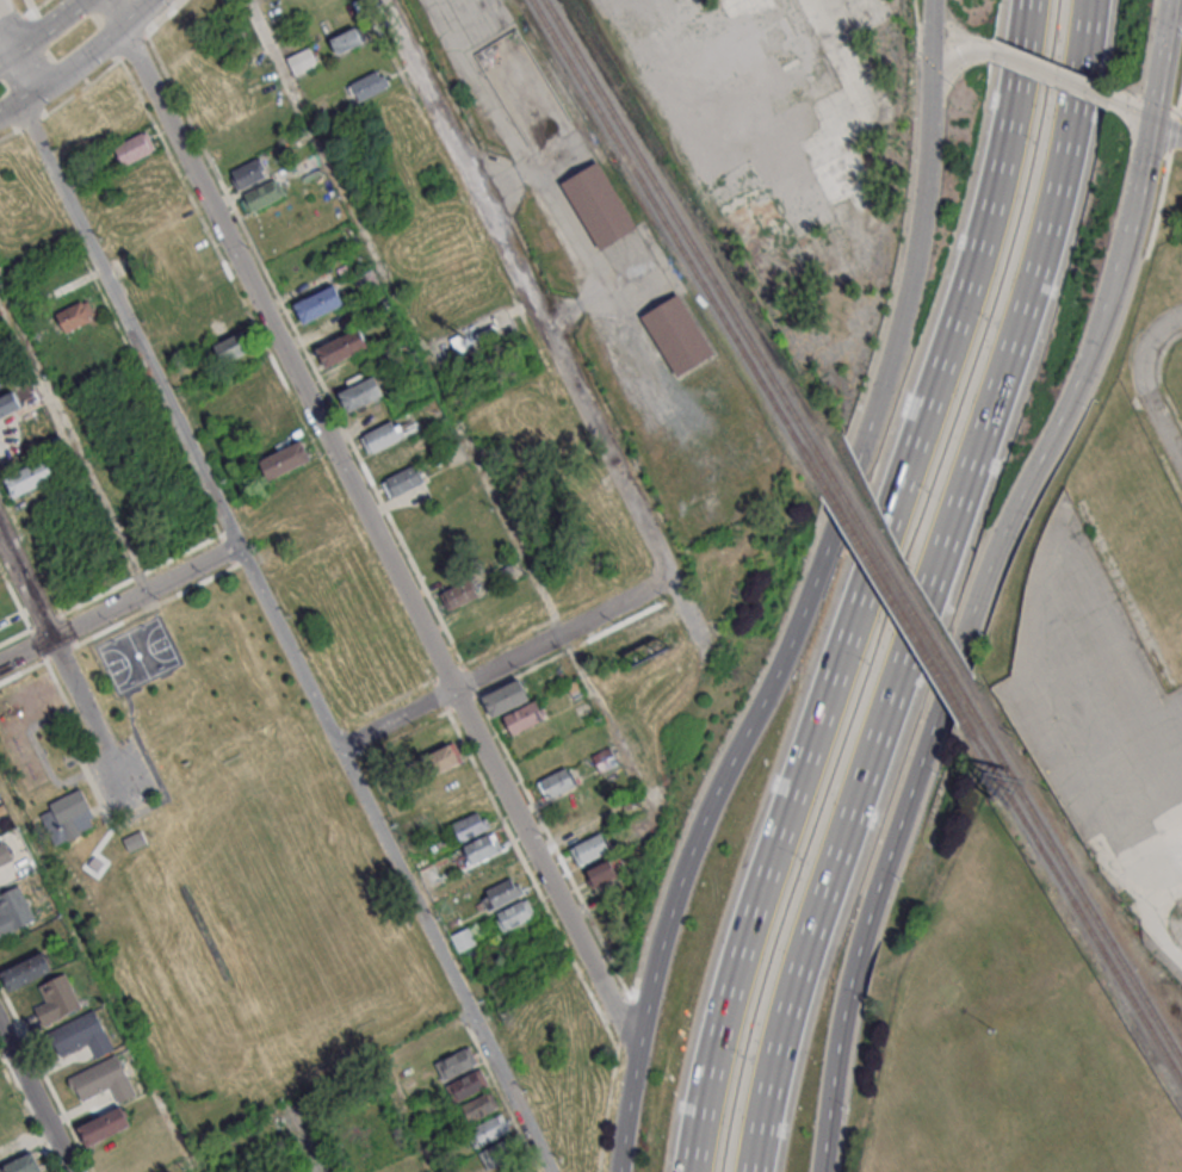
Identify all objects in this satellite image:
road: (1177, 6)
road: (915, 13)
road: (930, 30)
road: (44, 32)
road: (7, 36)
road: (969, 36)
building: (346, 38)
road: (1145, 49)
road: (957, 50)
building: (296, 60)
road: (1158, 60)
road: (78, 61)
road: (1051, 64)
traffic signals: (930, 66)
road: (1052, 73)
road: (18, 76)
building: (371, 83)
road: (1125, 94)
road: (1178, 98)
road: (1157, 105)
road: (1134, 112)
traffic signals: (1150, 122)
road: (1165, 130)
road: (1172, 130)
building: (134, 148)
building: (308, 165)
building: (248, 172)
building: (262, 194)
road: (1156, 204)
building: (599, 205)
railway: (687, 236)
railway: (680, 243)
building: (200, 280)
building: (366, 281)
building: (318, 303)
building: (75, 315)
road: (128, 324)
building: (222, 324)
road: (545, 325)
building: (676, 334)
road: (1151, 337)
building: (233, 346)
building: (342, 347)
road: (1089, 351)
road: (1158, 377)
building: (250, 392)
building: (359, 392)
building: (8, 401)
road: (452, 409)
building: (262, 415)
road: (1159, 422)
building: (382, 435)
road: (74, 439)
building: (394, 458)
building: (285, 459)
building: (29, 477)
building: (403, 480)
building: (318, 525)
road: (371, 527)
road: (858, 585)
railway: (901, 587)
road: (918, 587)
road: (25, 588)
building: (458, 594)
road: (811, 595)
railway: (896, 601)
road: (118, 604)
building: (650, 622)
road: (505, 662)
building: (506, 699)
road: (88, 712)
building: (524, 718)
building: (444, 758)
building: (605, 758)
building: (556, 782)
building: (72, 812)
building: (470, 825)
building: (483, 847)
building: (590, 849)
building: (4, 854)
park: (221, 858)
road: (391, 858)
road: (884, 863)
building: (602, 873)
railway: (1077, 879)
building: (505, 892)
railway: (1073, 898)
building: (13, 910)
building: (514, 912)
building: (463, 938)
building: (27, 971)
road: (97, 972)
building: (56, 1000)
building: (81, 1035)
building: (454, 1062)
building: (104, 1080)
building: (468, 1084)
road: (33, 1103)
building: (478, 1106)
road: (413, 1120)
building: (105, 1126)
building: (489, 1129)
road: (310, 1142)
building: (500, 1152)
building: (645, 1162)
building: (21, 1164)

